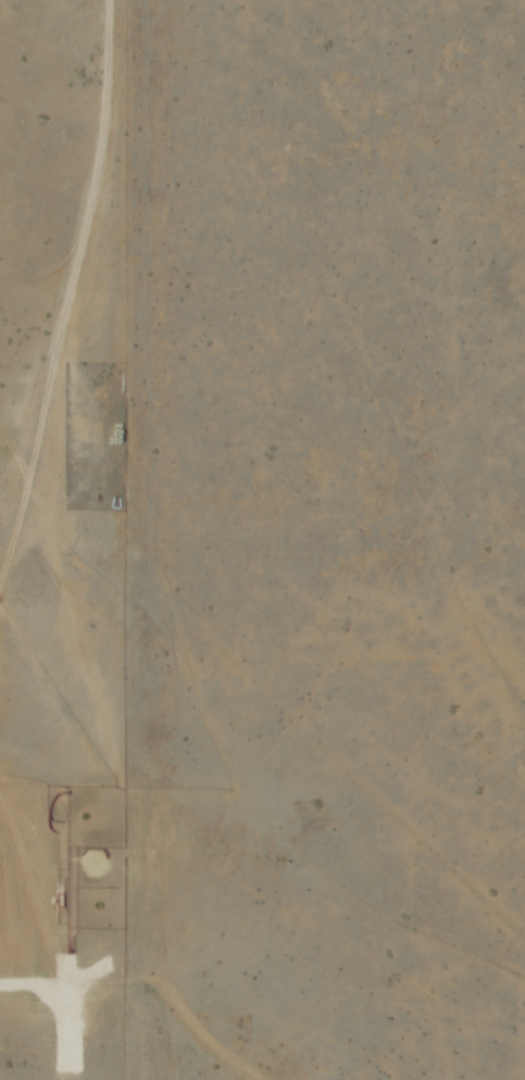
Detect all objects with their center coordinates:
road: (78, 1046)

